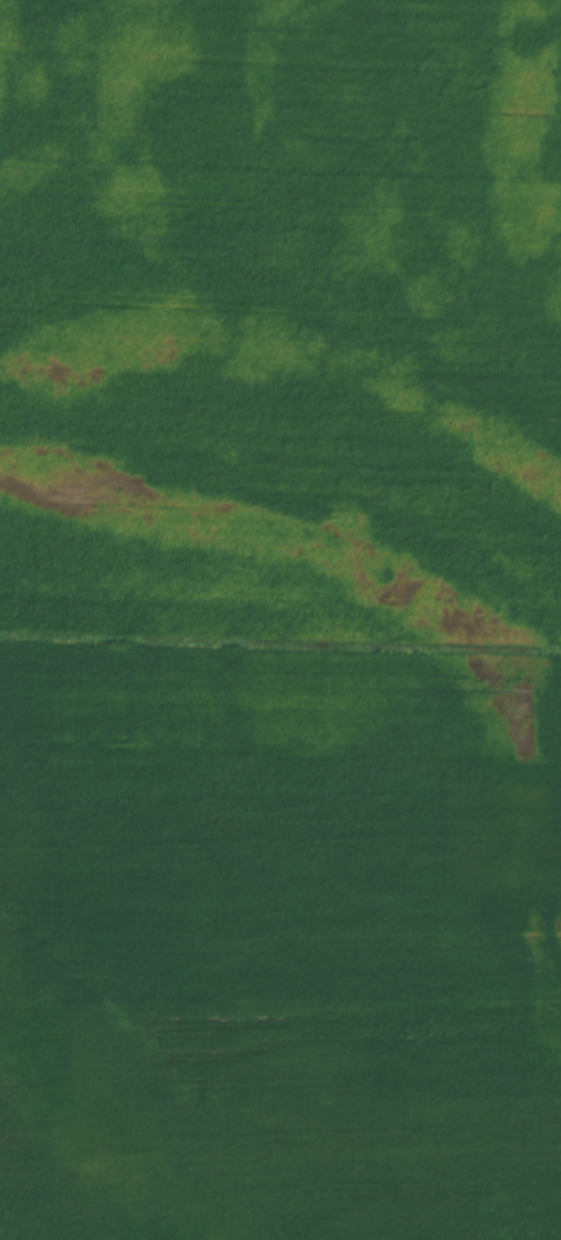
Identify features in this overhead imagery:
crop: (281, 316)

